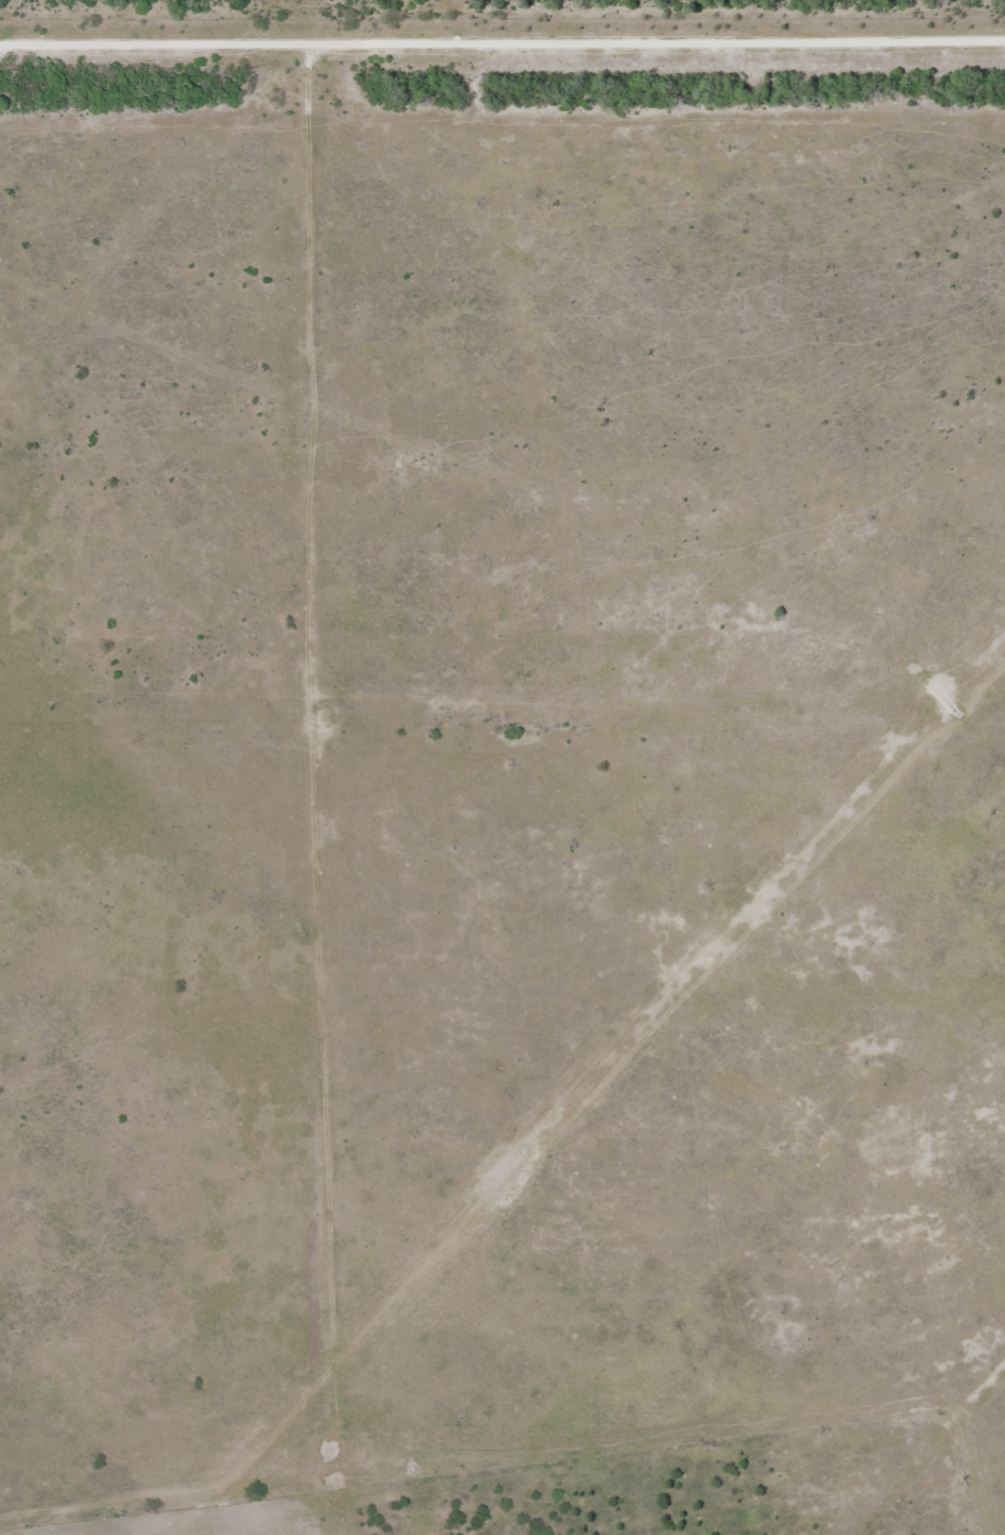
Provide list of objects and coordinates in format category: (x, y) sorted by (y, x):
road: (502, 42)

